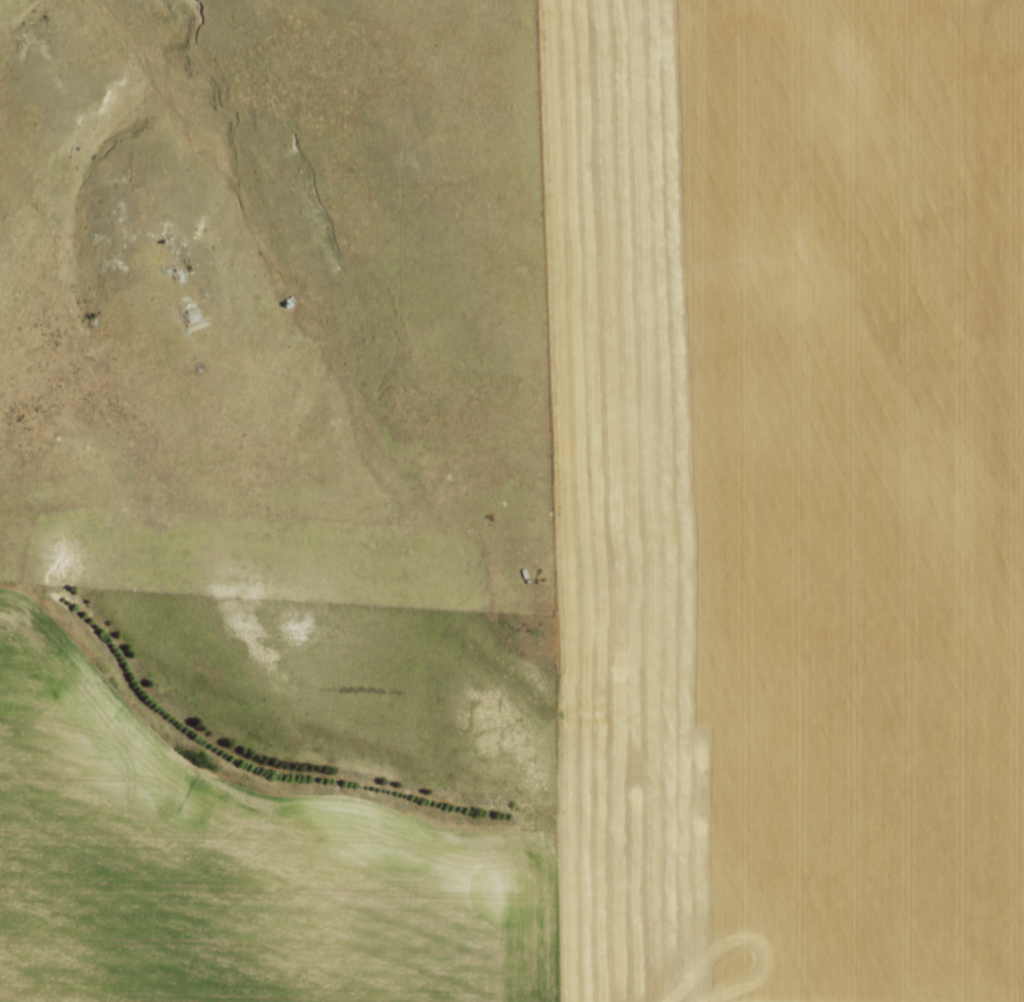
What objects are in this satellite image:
crop: (662, 579)

